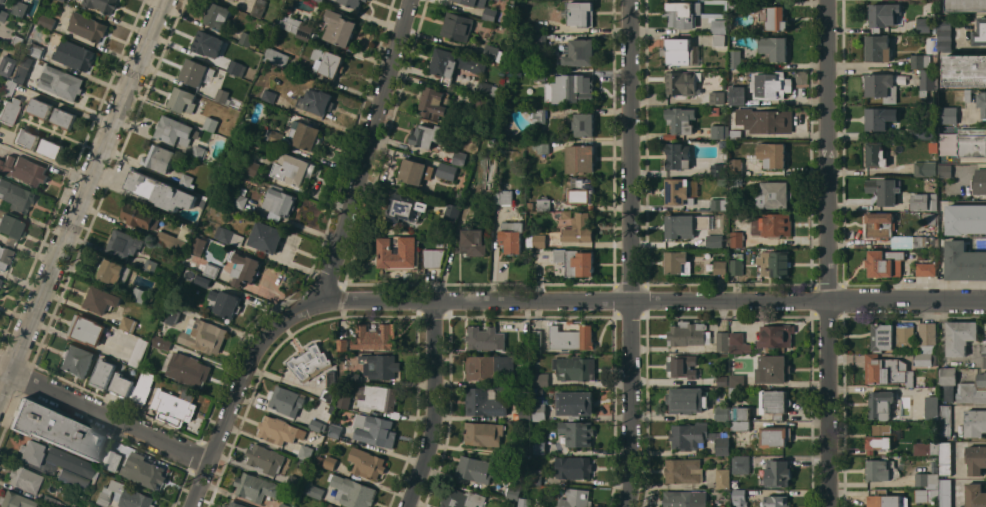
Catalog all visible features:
building: (63, 0)
building: (236, 0)
building: (337, 0)
building: (365, 0)
building: (2, 1)
building: (320, 1)
building: (352, 2)
building: (475, 2)
building: (102, 5)
building: (735, 5)
building: (931, 5)
building: (966, 5)
building: (20, 8)
building: (259, 8)
building: (581, 13)
building: (682, 13)
building: (2, 14)
building: (489, 14)
building: (218, 15)
building: (884, 15)
building: (774, 17)
building: (47, 21)
building: (488, 23)
building: (923, 25)
building: (87, 26)
building: (297, 26)
building: (458, 26)
building: (720, 26)
building: (500, 27)
building: (266, 28)
building: (339, 28)
building: (980, 32)
building: (945, 33)
building: (552, 36)
building: (249, 39)
building: (719, 39)
building: (540, 40)
building: (16, 42)
building: (206, 42)
building: (774, 48)
building: (878, 48)
building: (35, 50)
building: (680, 51)
building: (580, 52)
building: (493, 53)
building: (927, 53)
building: (74, 55)
building: (276, 57)
building: (735, 58)
building: (327, 61)
building: (40, 62)
building: (455, 63)
building: (236, 67)
building: (12, 69)
building: (515, 70)
building: (965, 70)
building: (194, 72)
building: (540, 74)
building: (928, 81)
building: (61, 82)
building: (681, 82)
building: (771, 85)
building: (8, 87)
building: (882, 87)
building: (488, 89)
building: (571, 89)
building: (269, 95)
building: (738, 95)
building: (962, 95)
building: (222, 96)
building: (716, 97)
building: (183, 100)
building: (316, 101)
building: (434, 102)
building: (480, 102)
building: (982, 103)
building: (40, 108)
building: (9, 110)
building: (714, 111)
building: (538, 114)
building: (948, 115)
building: (63, 118)
building: (876, 119)
building: (764, 120)
building: (680, 121)
building: (211, 123)
building: (584, 124)
building: (174, 130)
building: (719, 131)
building: (735, 133)
building: (305, 134)
building: (428, 135)
building: (924, 136)
building: (27, 137)
building: (277, 138)
building: (972, 143)
building: (723, 144)
building: (947, 144)
building: (51, 147)
building: (933, 148)
building: (542, 149)
building: (199, 152)
building: (771, 154)
building: (876, 154)
building: (678, 156)
building: (159, 158)
building: (460, 158)
building: (580, 158)
building: (736, 164)
building: (252, 168)
building: (292, 168)
building: (917, 168)
building: (720, 169)
building: (23, 170)
building: (945, 170)
building: (412, 171)
building: (447, 171)
building: (489, 171)
road: (858, 171)
building: (187, 181)
building: (723, 181)
building: (979, 181)
building: (736, 183)
building: (929, 183)
building: (885, 190)
building: (160, 191)
building: (680, 191)
building: (582, 192)
road: (82, 194)
building: (774, 195)
building: (16, 196)
building: (504, 197)
building: (240, 200)
building: (925, 201)
building: (279, 203)
building: (544, 204)
building: (718, 204)
building: (406, 207)
building: (452, 210)
building: (567, 214)
building: (141, 216)
building: (930, 218)
building: (966, 219)
building: (701, 222)
building: (681, 225)
building: (776, 225)
building: (879, 225)
building: (10, 228)
building: (579, 229)
building: (228, 236)
building: (266, 237)
building: (511, 237)
building: (176, 238)
building: (736, 239)
building: (715, 241)
building: (923, 241)
building: (472, 242)
building: (537, 242)
building: (124, 243)
building: (199, 243)
building: (398, 252)
building: (738, 252)
road: (630, 253)
road: (826, 253)
building: (4, 256)
building: (921, 256)
building: (434, 257)
building: (675, 261)
building: (576, 262)
building: (964, 262)
building: (776, 263)
building: (885, 263)
building: (151, 266)
building: (201, 266)
building: (720, 267)
building: (736, 267)
building: (243, 268)
building: (926, 269)
road: (328, 271)
building: (113, 272)
building: (205, 279)
building: (0, 281)
building: (140, 295)
building: (100, 299)
road: (652, 302)
building: (225, 303)
building: (171, 313)
building: (129, 324)
building: (88, 330)
building: (687, 333)
building: (985, 334)
building: (203, 335)
building: (776, 335)
building: (882, 336)
building: (960, 336)
building: (375, 337)
building: (527, 337)
building: (572, 338)
building: (903, 338)
building: (485, 339)
building: (537, 341)
building: (723, 341)
building: (161, 342)
building: (739, 343)
building: (343, 344)
building: (984, 349)
building: (139, 352)
building: (925, 359)
building: (77, 360)
building: (310, 362)
building: (683, 365)
building: (381, 366)
building: (488, 367)
building: (575, 368)
building: (772, 368)
building: (188, 369)
building: (887, 370)
building: (104, 374)
building: (354, 377)
building: (330, 379)
building: (541, 379)
building: (737, 380)
building: (722, 381)
building: (342, 382)
building: (948, 382)
building: (122, 385)
building: (141, 389)
building: (973, 391)
building: (327, 395)
building: (380, 398)
building: (688, 400)
building: (344, 401)
building: (286, 402)
building: (485, 402)
building: (575, 402)
building: (774, 403)
building: (881, 404)
building: (175, 406)
road: (432, 406)
building: (932, 407)
building: (539, 411)
building: (722, 413)
building: (740, 413)
building: (525, 414)
road: (104, 416)
building: (574, 417)
building: (945, 420)
building: (975, 423)
building: (317, 425)
building: (740, 425)
building: (56, 429)
building: (279, 430)
building: (335, 430)
building: (374, 430)
building: (577, 432)
building: (483, 433)
building: (689, 435)
building: (775, 436)
building: (346, 437)
building: (879, 437)
building: (723, 444)
building: (540, 447)
building: (926, 448)
building: (520, 451)
building: (32, 452)
building: (305, 452)
building: (945, 458)
building: (265, 459)
building: (976, 459)
building: (112, 460)
building: (320, 460)
building: (72, 462)
building: (330, 462)
building: (367, 463)
building: (740, 464)
building: (574, 467)
building: (477, 468)
building: (881, 469)
building: (143, 471)
building: (683, 471)
building: (779, 473)
building: (535, 476)
building: (25, 478)
building: (72, 478)
building: (723, 478)
building: (927, 480)
building: (293, 481)
building: (255, 487)
building: (313, 489)
building: (353, 492)
building: (513, 493)
building: (946, 493)
building: (926, 495)
building: (975, 495)
building: (122, 496)
building: (739, 497)
building: (462, 498)
building: (576, 498)
building: (685, 499)
building: (886, 499)
building: (15, 500)
building: (52, 501)
building: (776, 501)
building: (525, 502)
building: (235, 504)
building: (285, 505)
building: (91, 506)
building: (99, 506)
building: (327, 506)
building: (331, 506)

